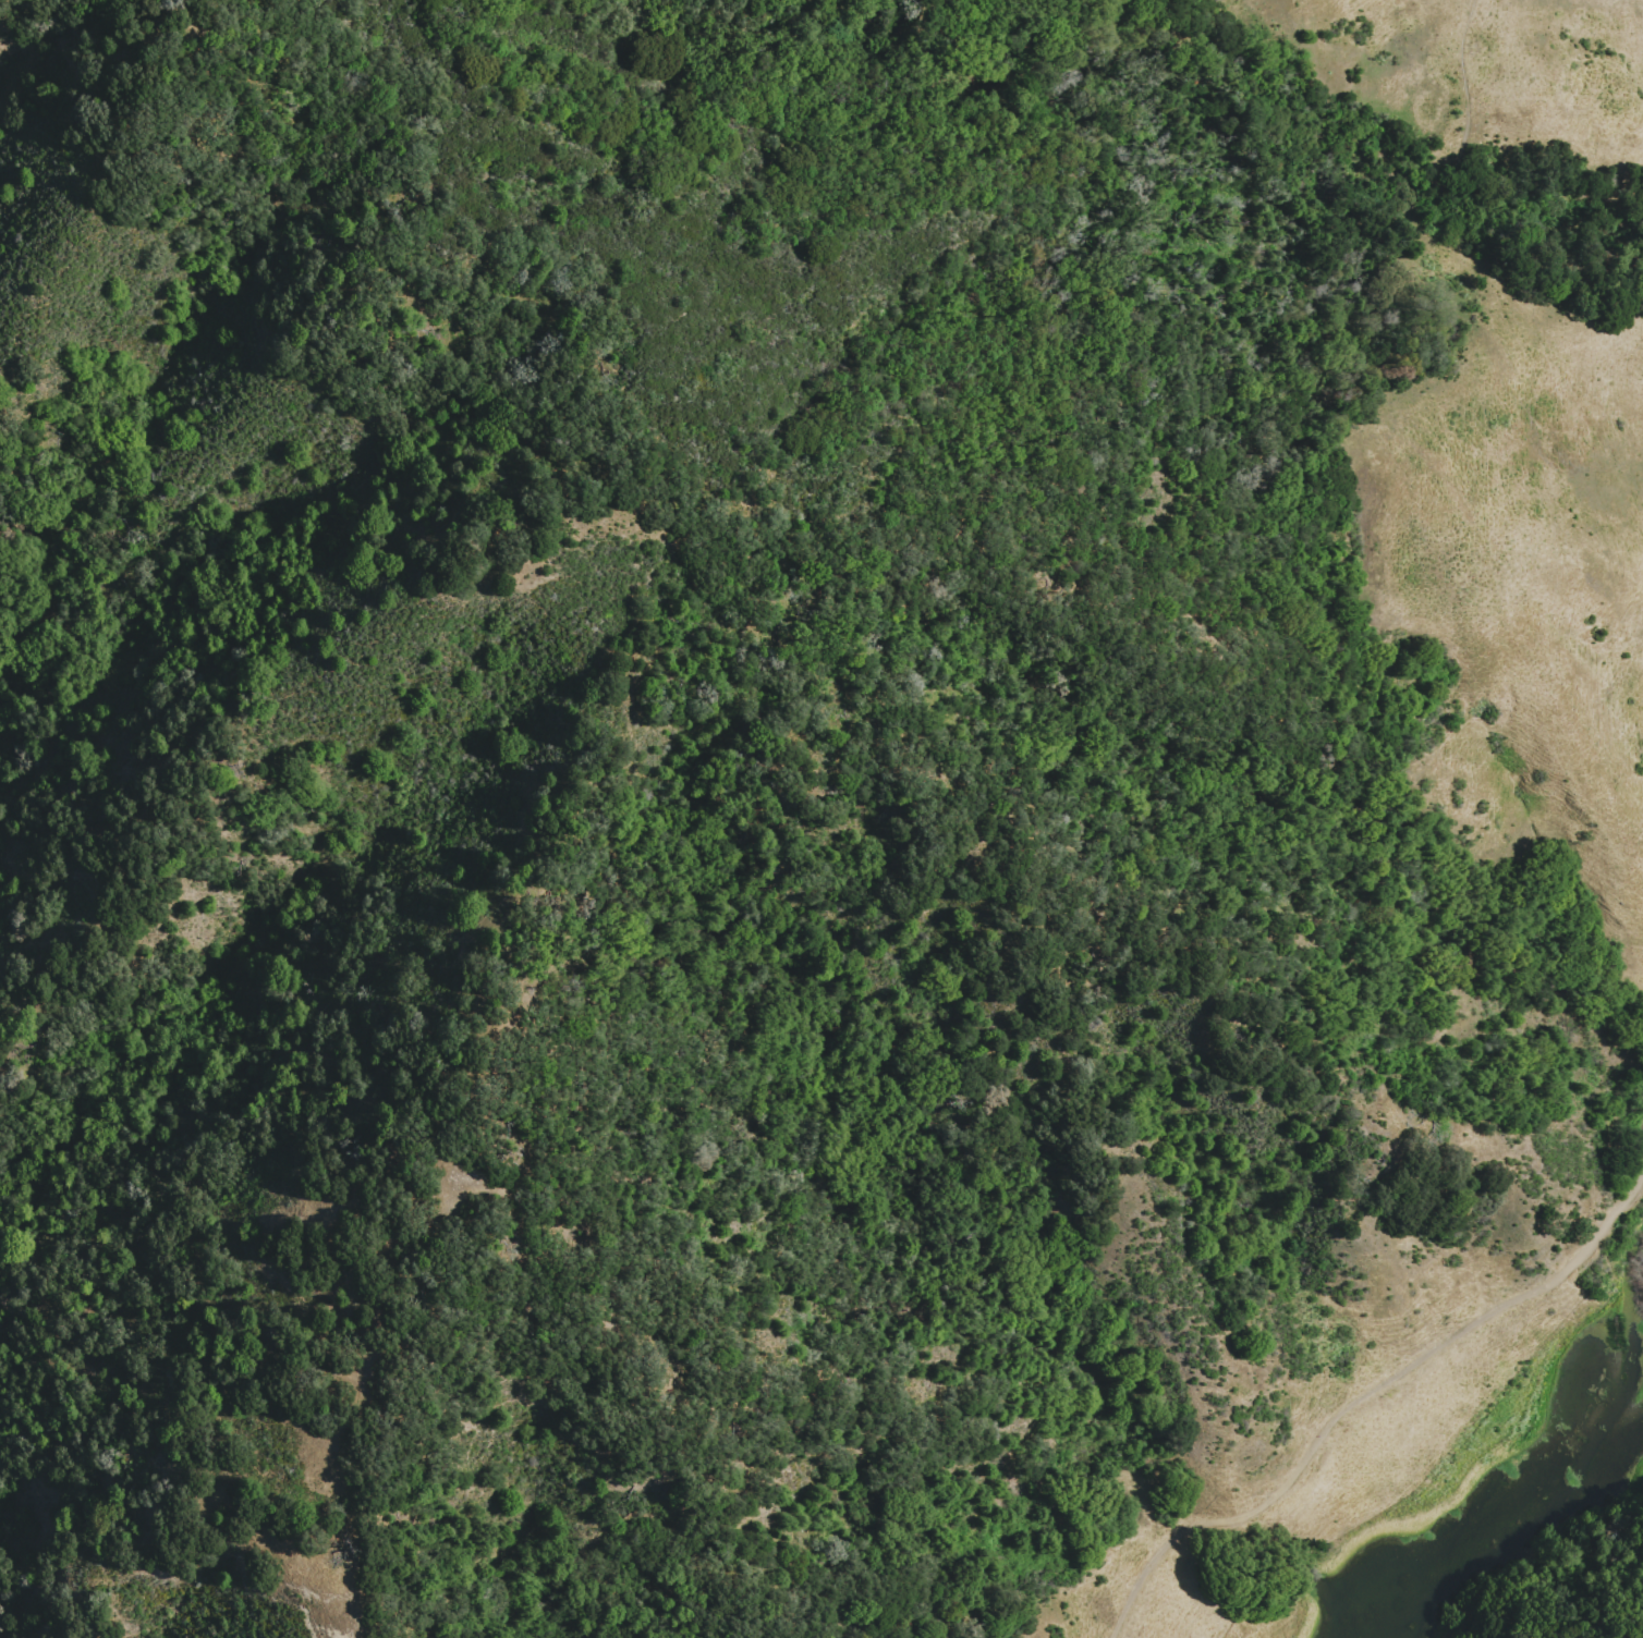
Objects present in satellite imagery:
road: (168, 3)
road: (1466, 172)
road: (1380, 1393)

